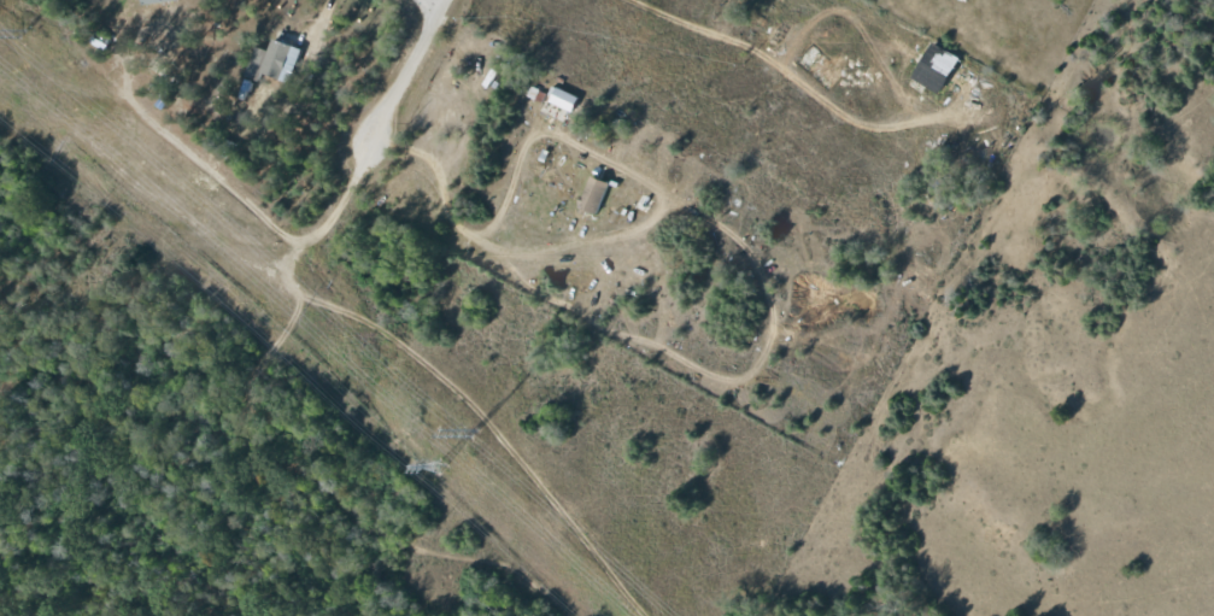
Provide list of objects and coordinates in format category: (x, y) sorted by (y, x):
building: (153, 0)
road: (429, 4)
power tower: (22, 35)
building: (271, 60)
building: (932, 66)
road: (404, 72)
building: (559, 98)
road: (577, 146)
building: (591, 195)
road: (430, 370)
power tower: (473, 438)
power tower: (438, 469)

